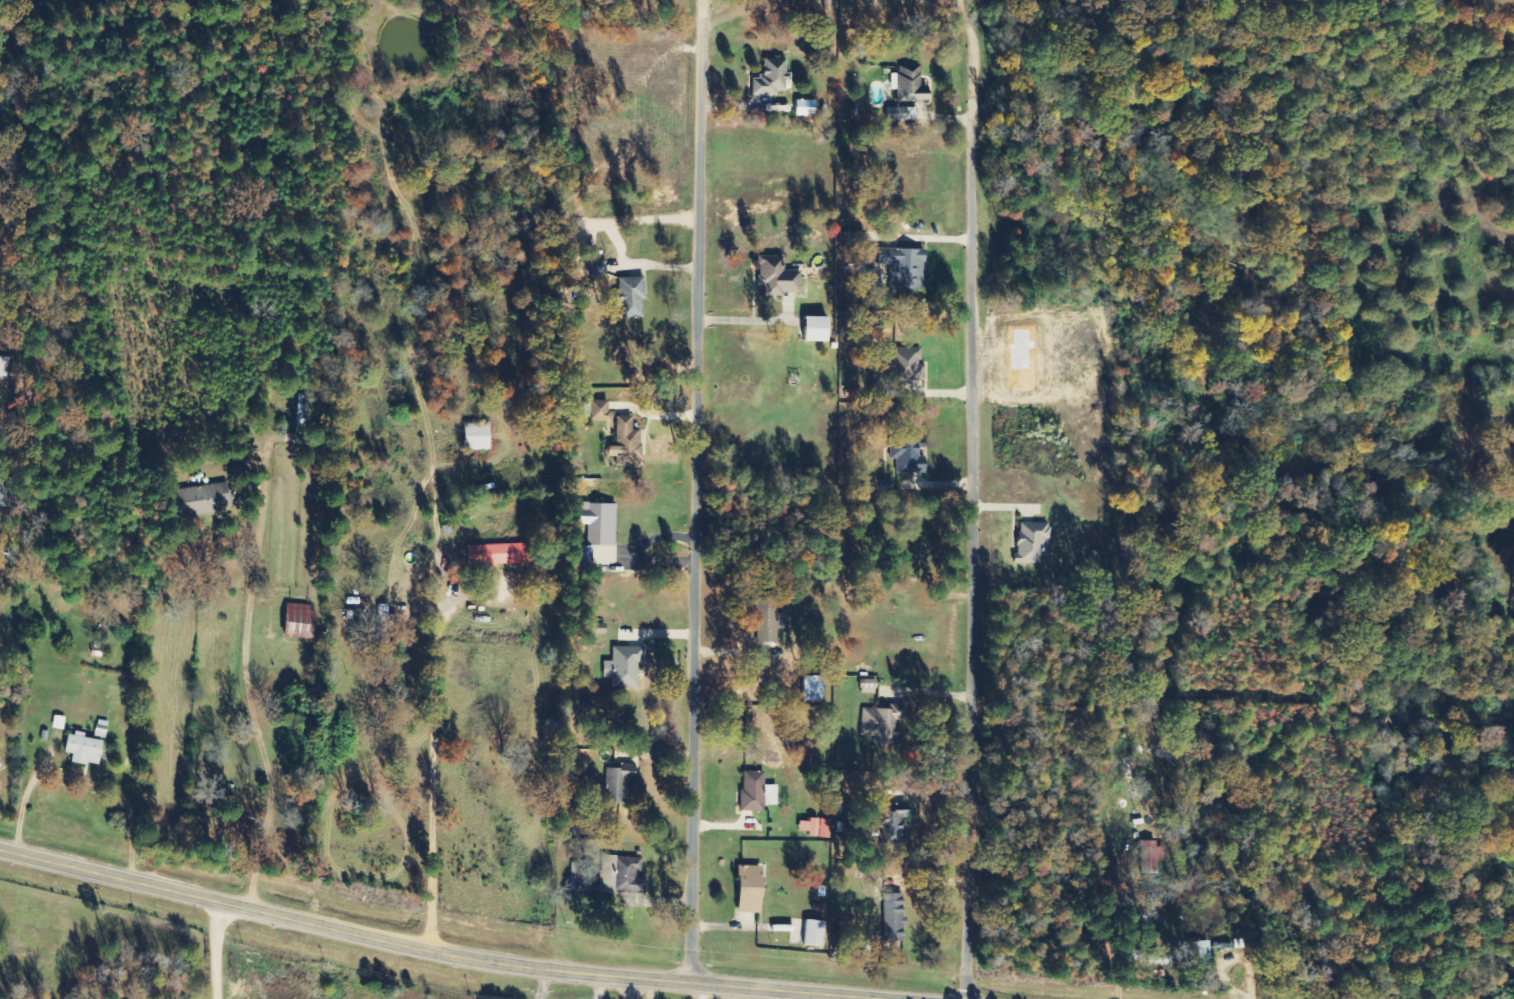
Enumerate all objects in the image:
building: (773, 77)
building: (905, 86)
building: (807, 108)
building: (906, 267)
building: (779, 276)
building: (631, 298)
building: (818, 329)
building: (910, 367)
building: (5, 368)
building: (601, 413)
building: (1, 427)
building: (479, 437)
building: (626, 444)
building: (907, 456)
road: (704, 491)
building: (205, 499)
road: (978, 499)
building: (601, 524)
building: (1034, 542)
building: (501, 555)
building: (386, 614)
building: (766, 620)
building: (303, 622)
building: (625, 666)
building: (869, 686)
building: (815, 689)
road: (492, 709)
road: (192, 715)
building: (883, 721)
road: (392, 742)
building: (85, 749)
building: (621, 783)
building: (0, 786)
building: (758, 792)
building: (816, 827)
building: (896, 828)
building: (1153, 857)
building: (578, 876)
building: (631, 876)
building: (753, 889)
road: (6, 893)
building: (894, 918)
building: (816, 933)
road: (431, 956)
road: (1125, 956)
building: (1198, 956)
road: (387, 972)

